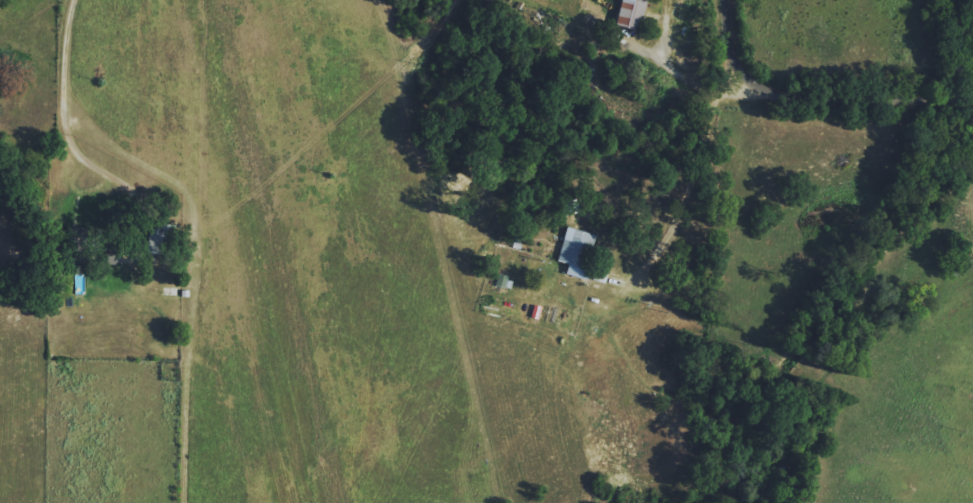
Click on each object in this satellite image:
building: (626, 13)
road: (698, 83)
road: (820, 94)
road: (66, 124)
road: (683, 199)
building: (574, 253)

